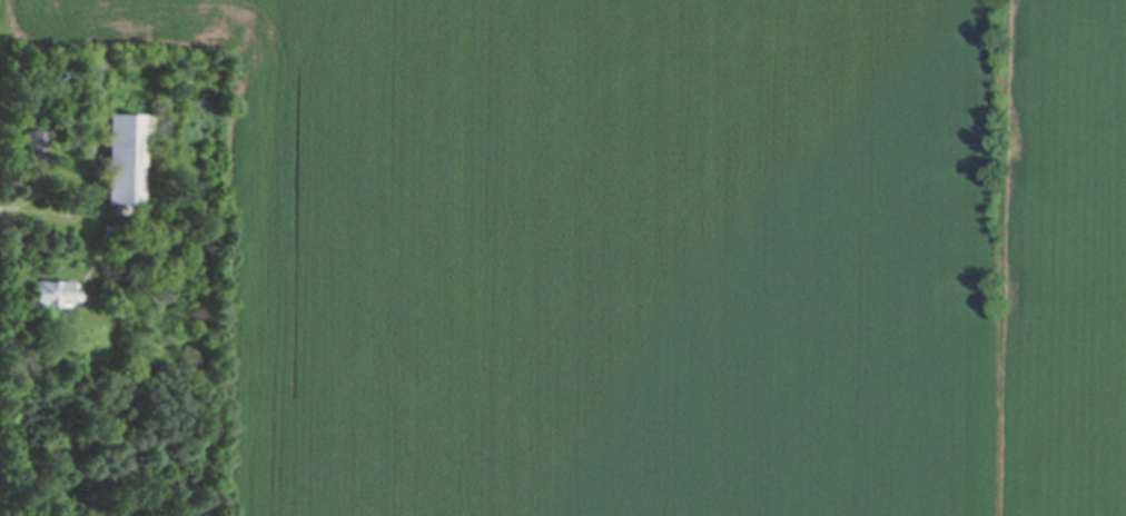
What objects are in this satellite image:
building: (36, 159)
building: (125, 162)
building: (112, 215)
building: (110, 234)
building: (50, 299)

